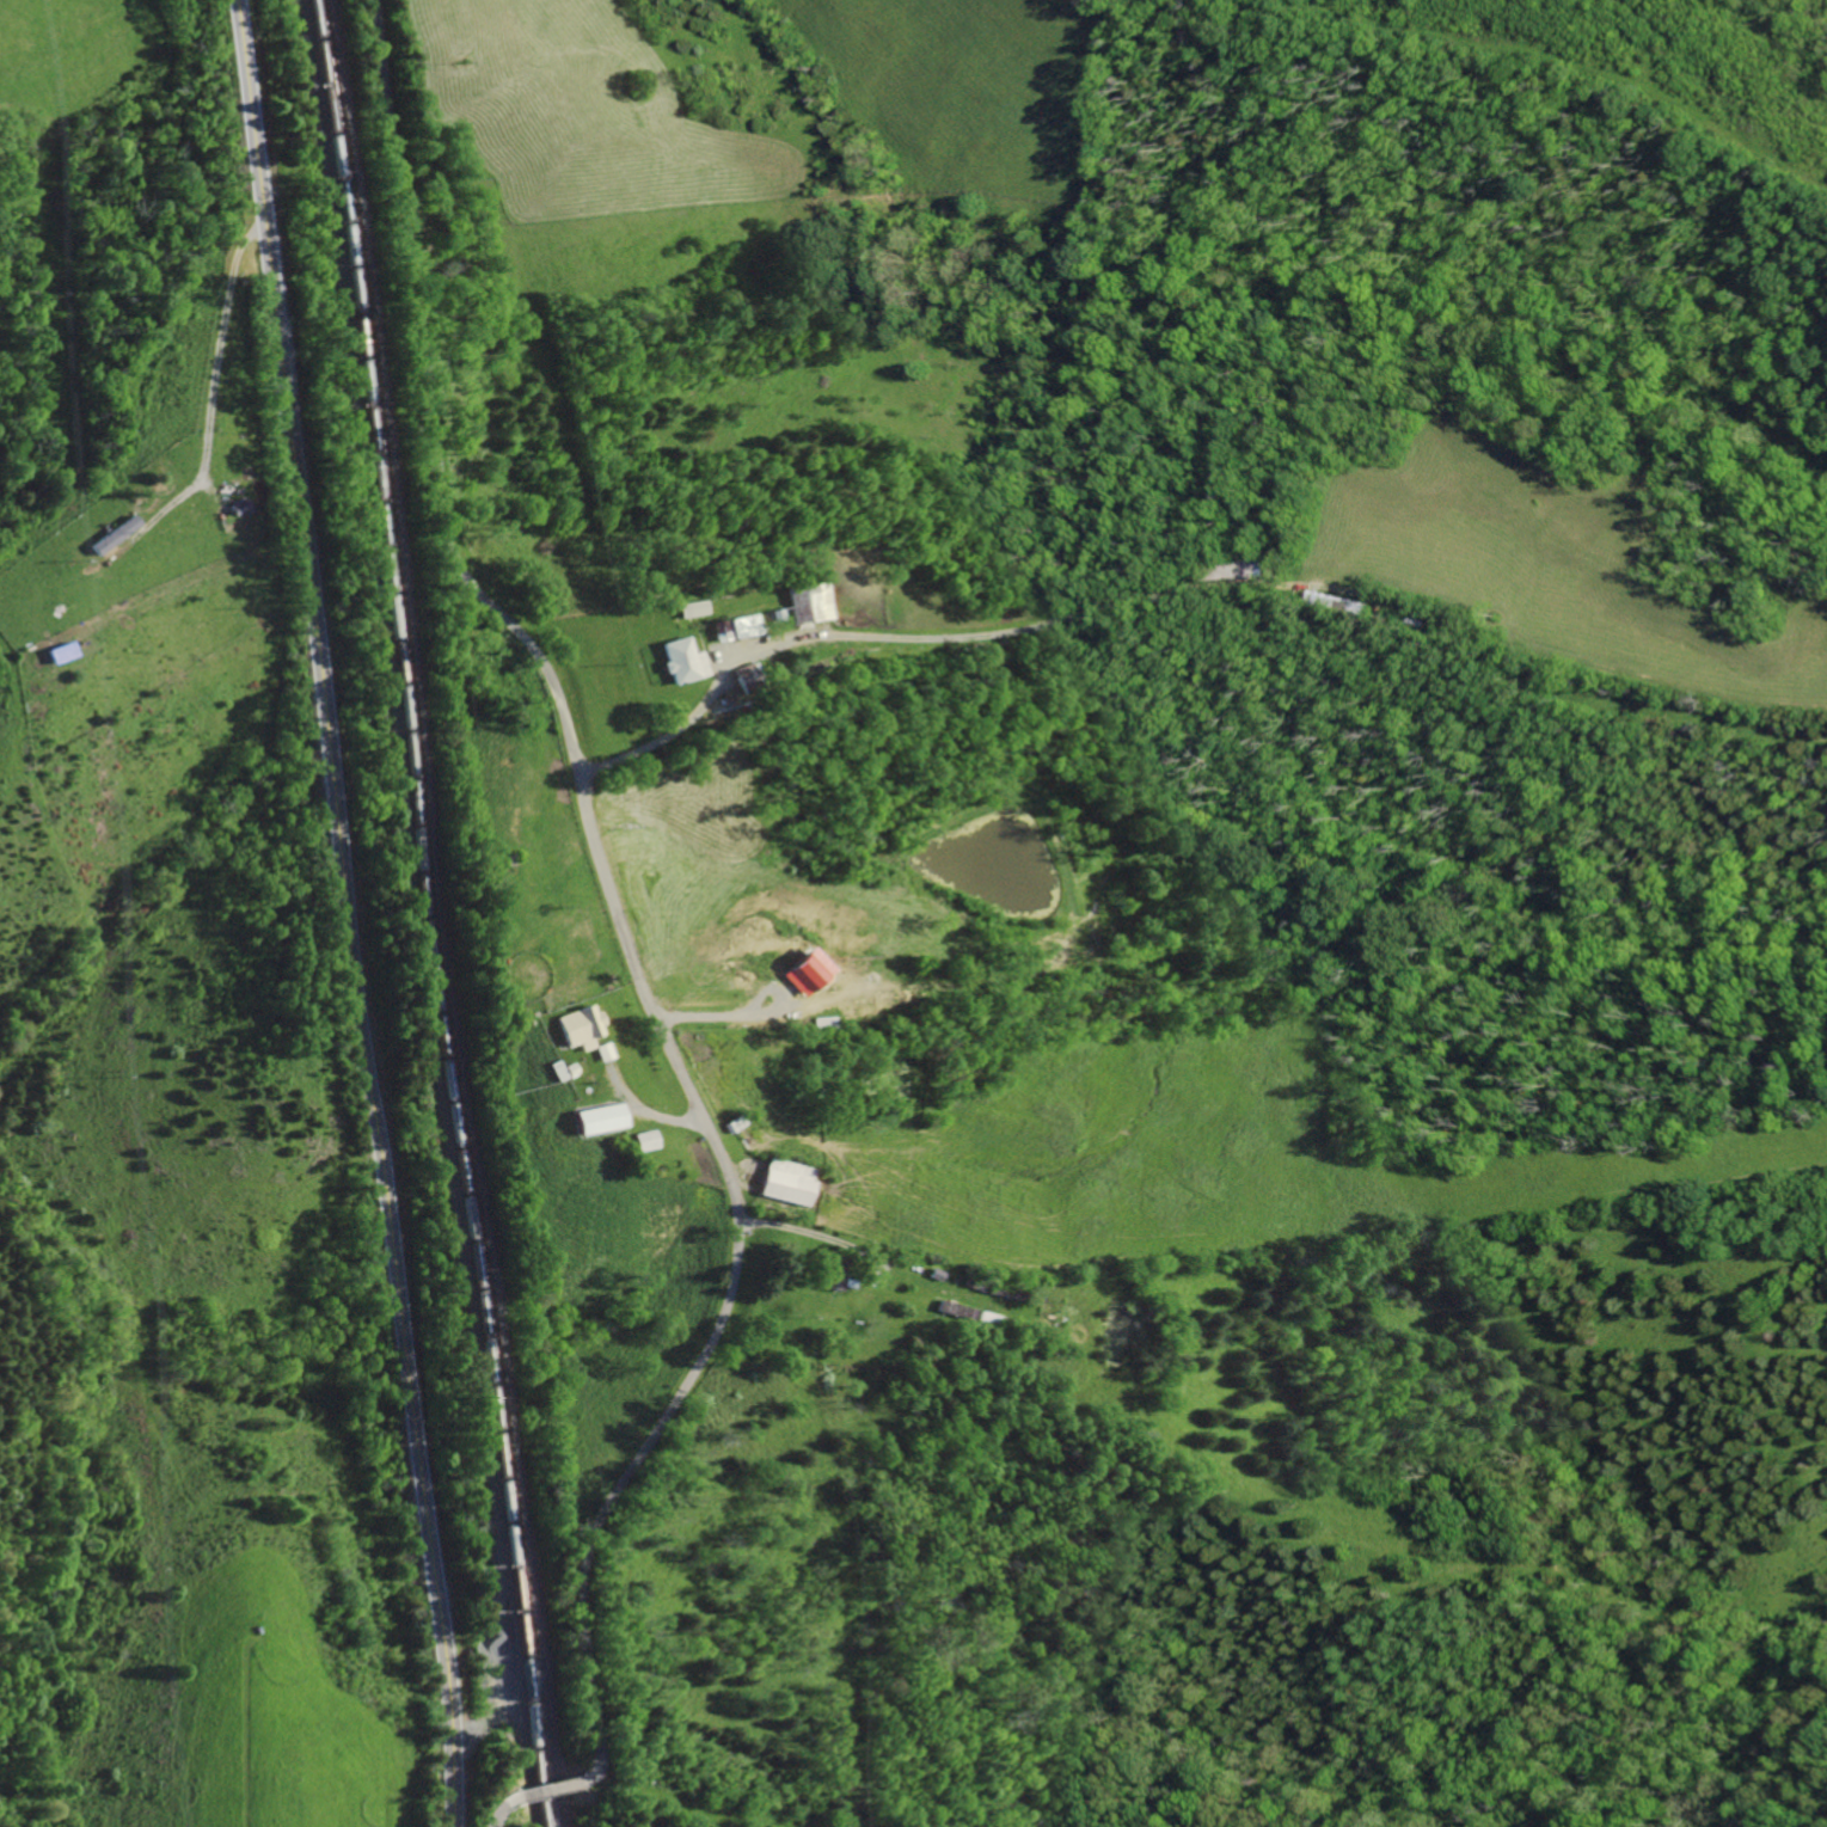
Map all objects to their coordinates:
building: (104, 537)
building: (802, 601)
road: (844, 634)
building: (53, 650)
building: (676, 660)
road: (608, 900)
road: (354, 913)
railway: (430, 913)
railway: (441, 913)
building: (576, 1026)
building: (600, 1052)
building: (594, 1118)
building: (639, 1140)
building: (783, 1183)
road: (808, 1233)
building: (823, 1280)
road: (545, 1790)
road: (496, 1813)

